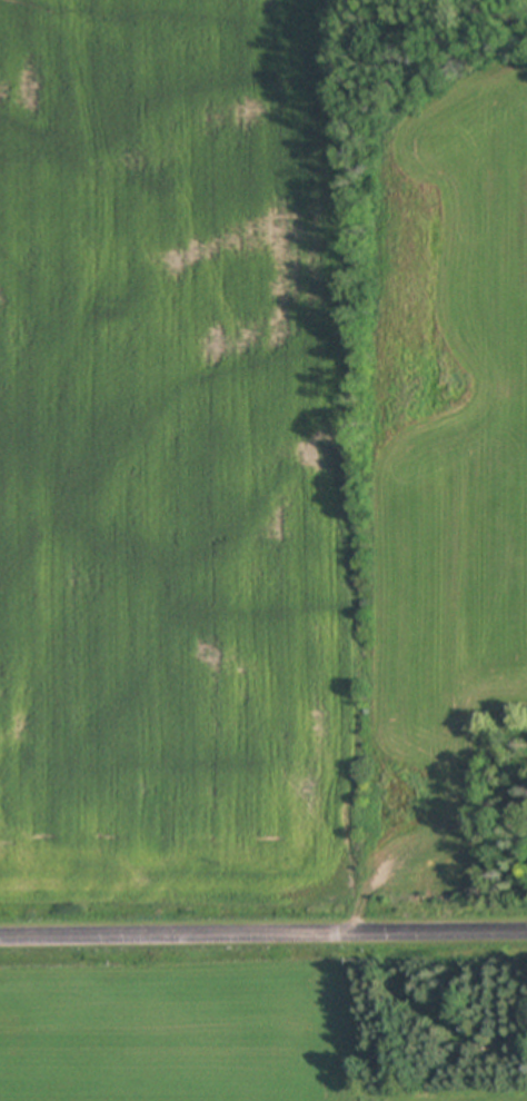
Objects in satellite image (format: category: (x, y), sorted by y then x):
road: (263, 934)

